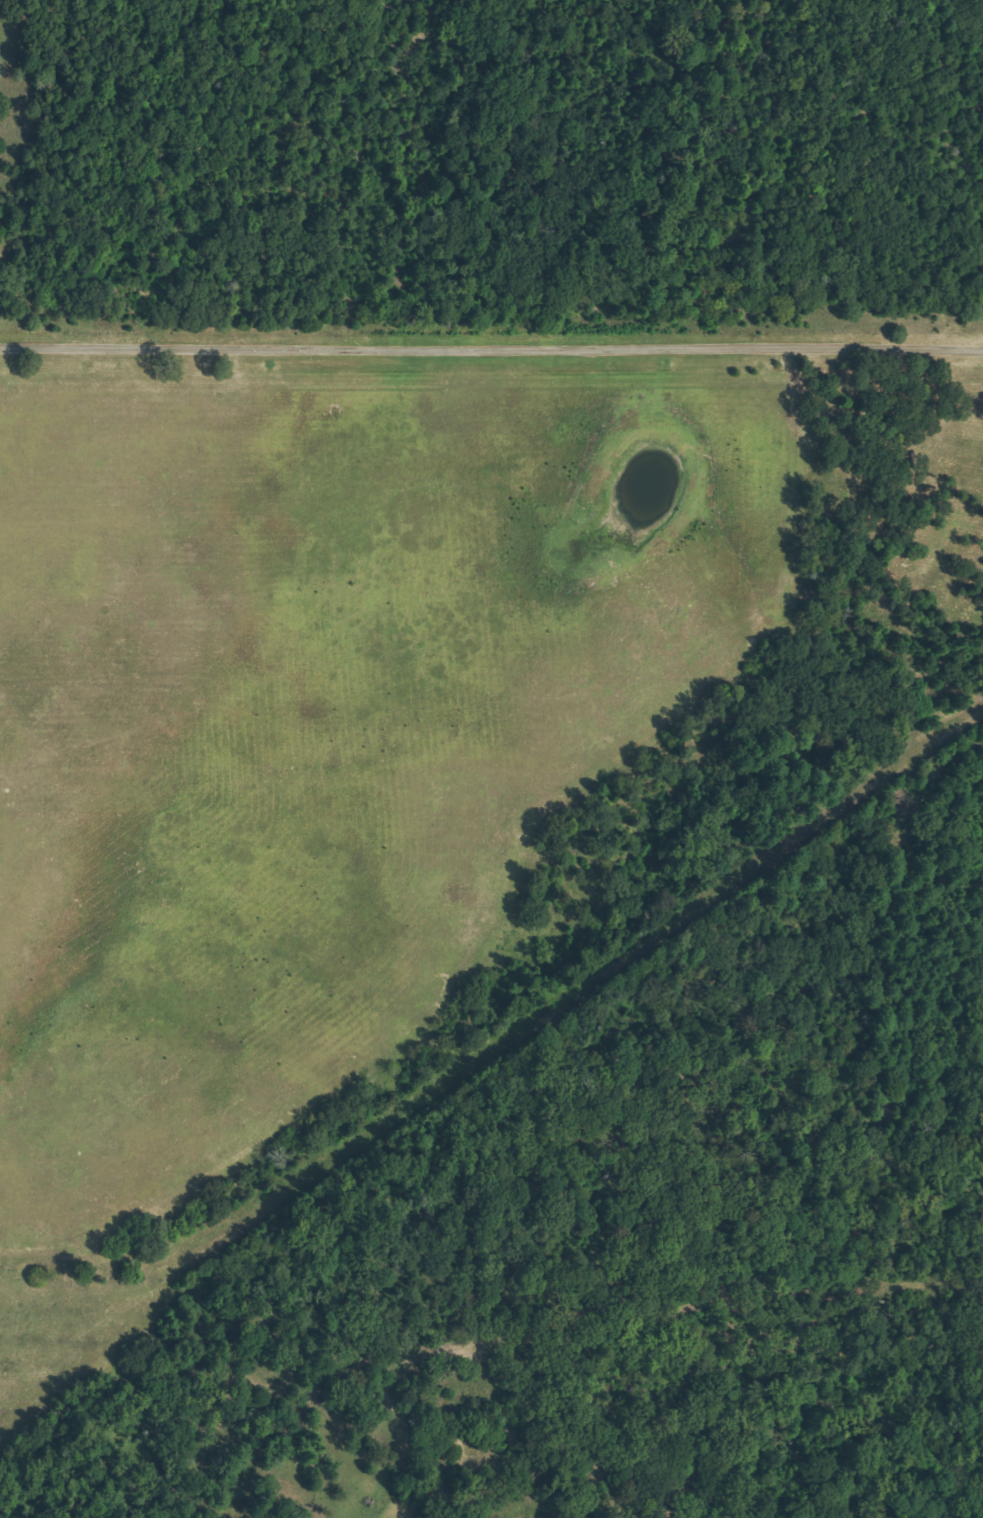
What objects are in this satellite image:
road: (491, 349)

